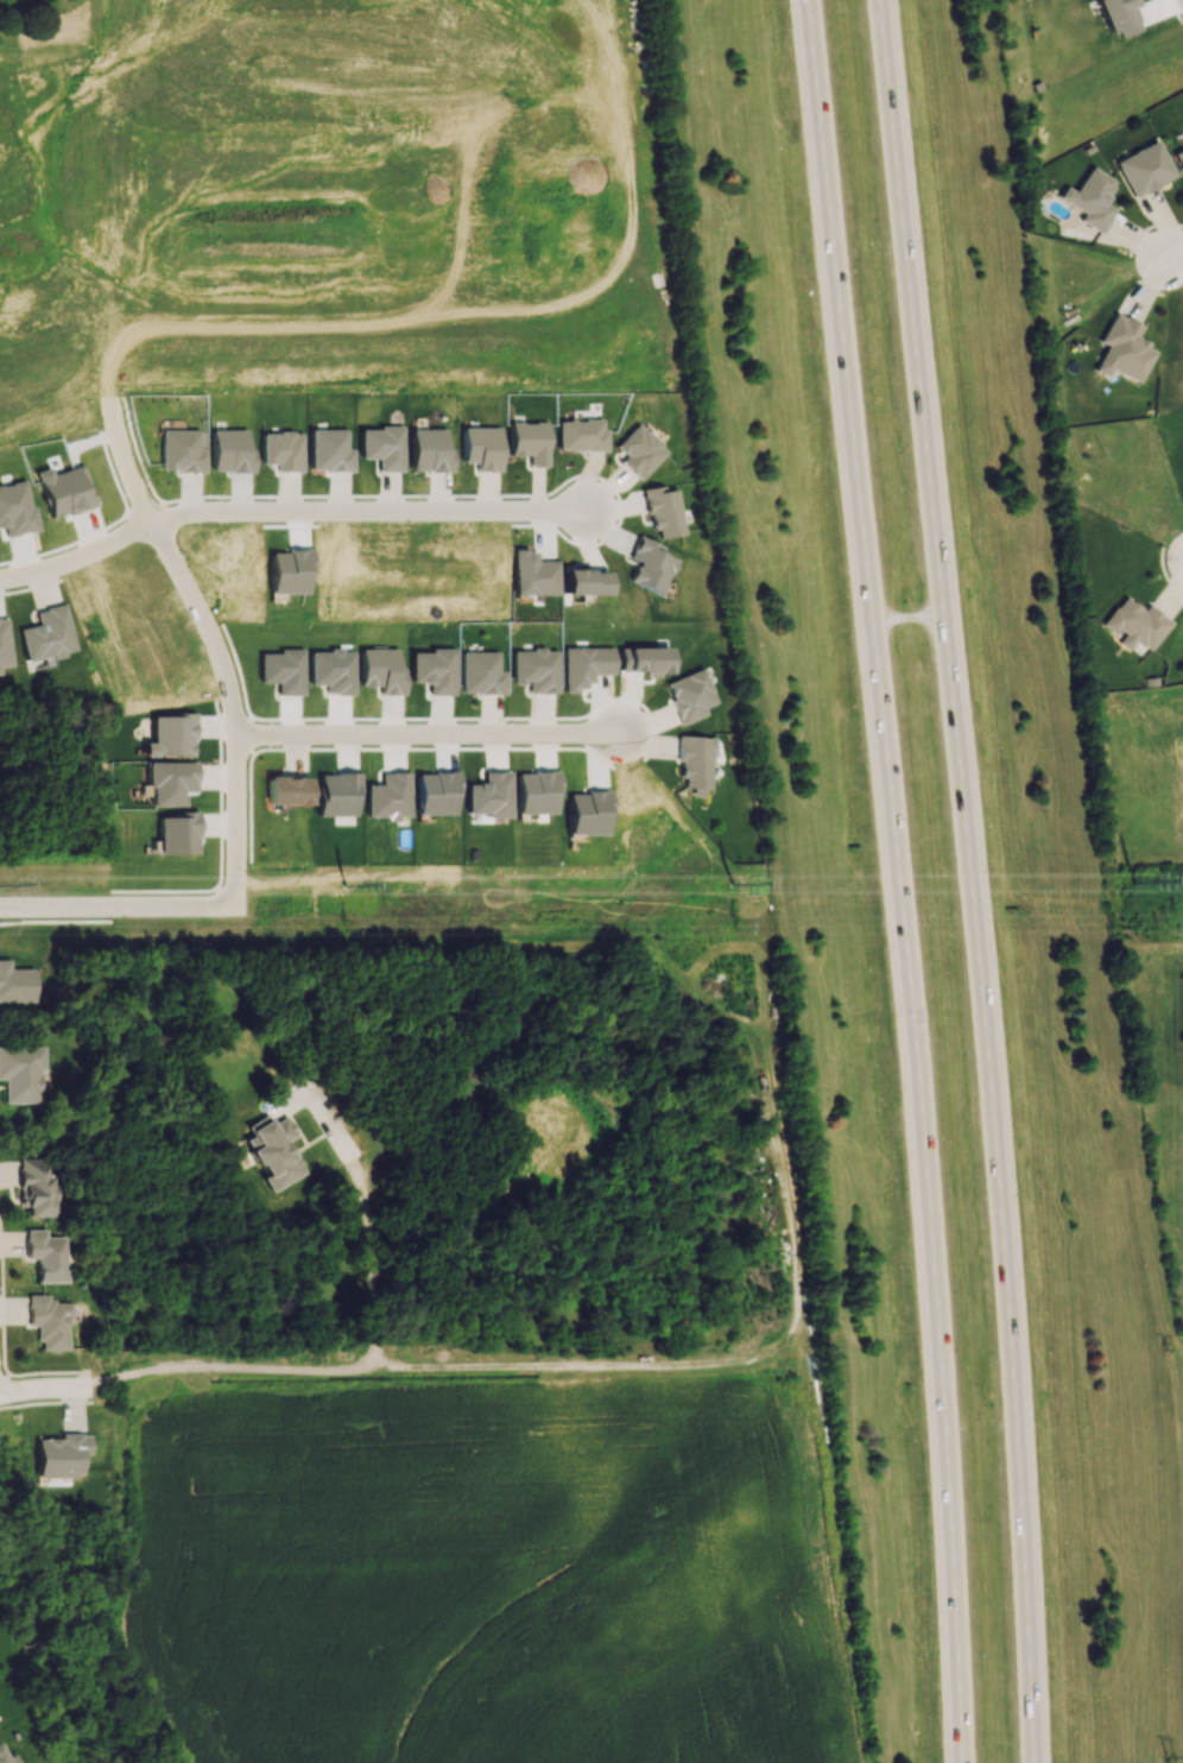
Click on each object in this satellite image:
building: (1118, 15)
road: (318, 55)
building: (1179, 157)
building: (1144, 169)
building: (1092, 198)
road: (1175, 255)
road: (329, 277)
road: (52, 303)
building: (1122, 349)
building: (581, 435)
building: (529, 441)
building: (382, 447)
building: (481, 448)
building: (281, 450)
building: (329, 450)
building: (429, 450)
building: (181, 451)
building: (230, 451)
building: (639, 451)
road: (137, 487)
building: (64, 491)
building: (15, 508)
road: (371, 511)
building: (663, 512)
road: (78, 556)
building: (647, 564)
building: (532, 575)
building: (583, 582)
road: (905, 617)
building: (1135, 624)
building: (46, 634)
building: (4, 644)
building: (644, 661)
building: (584, 665)
building: (534, 669)
building: (380, 670)
building: (432, 670)
building: (480, 674)
building: (691, 695)
road: (429, 734)
building: (170, 737)
building: (695, 762)
building: (169, 783)
building: (287, 791)
building: (177, 834)
road: (969, 879)
road: (896, 880)
power tower: (1132, 890)
power tower: (730, 891)
power tower: (343, 892)
road: (118, 904)
power tower: (1173, 921)
power tower: (352, 925)
power tower: (740, 929)
building: (15, 984)
building: (21, 1073)
building: (274, 1151)
building: (37, 1187)
building: (49, 1256)
building: (51, 1321)
power tower: (1171, 1351)
road: (336, 1367)
road: (42, 1372)
road: (44, 1389)
building: (57, 1455)
power tower: (1170, 1756)
building: (7, 1759)

